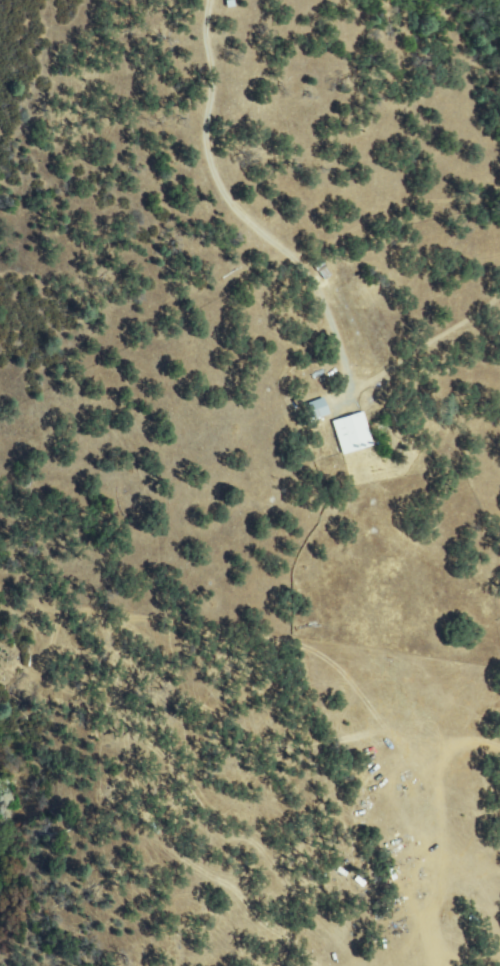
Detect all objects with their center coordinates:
building: (318, 408)
building: (352, 433)
road: (489, 752)

